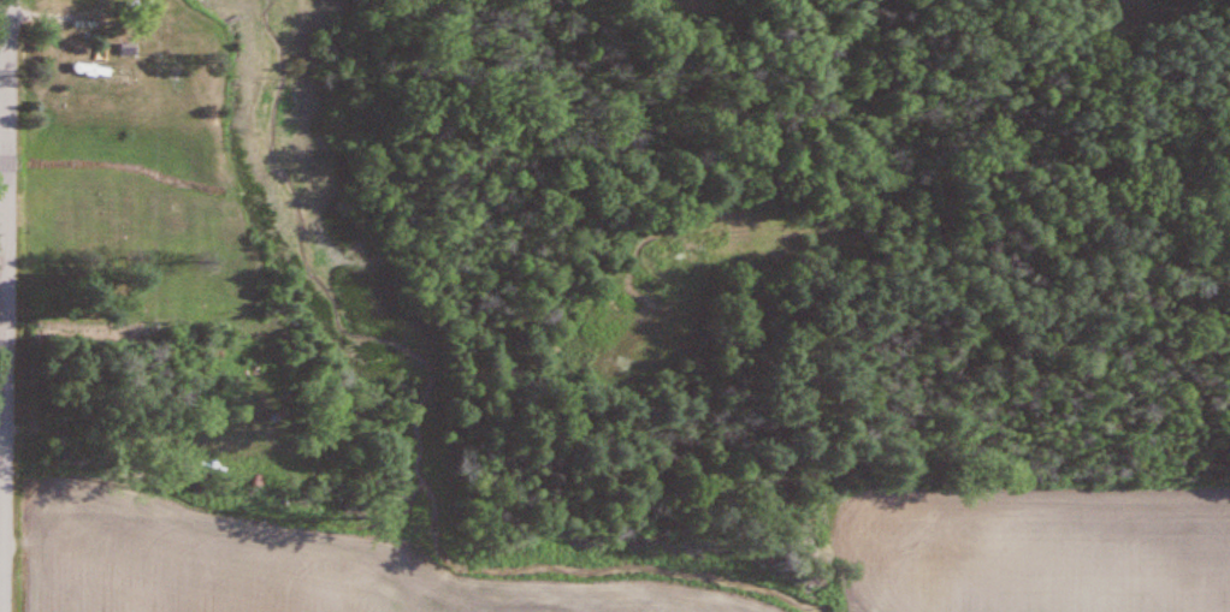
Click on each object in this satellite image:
building: (93, 75)
road: (6, 305)
road: (2, 340)

